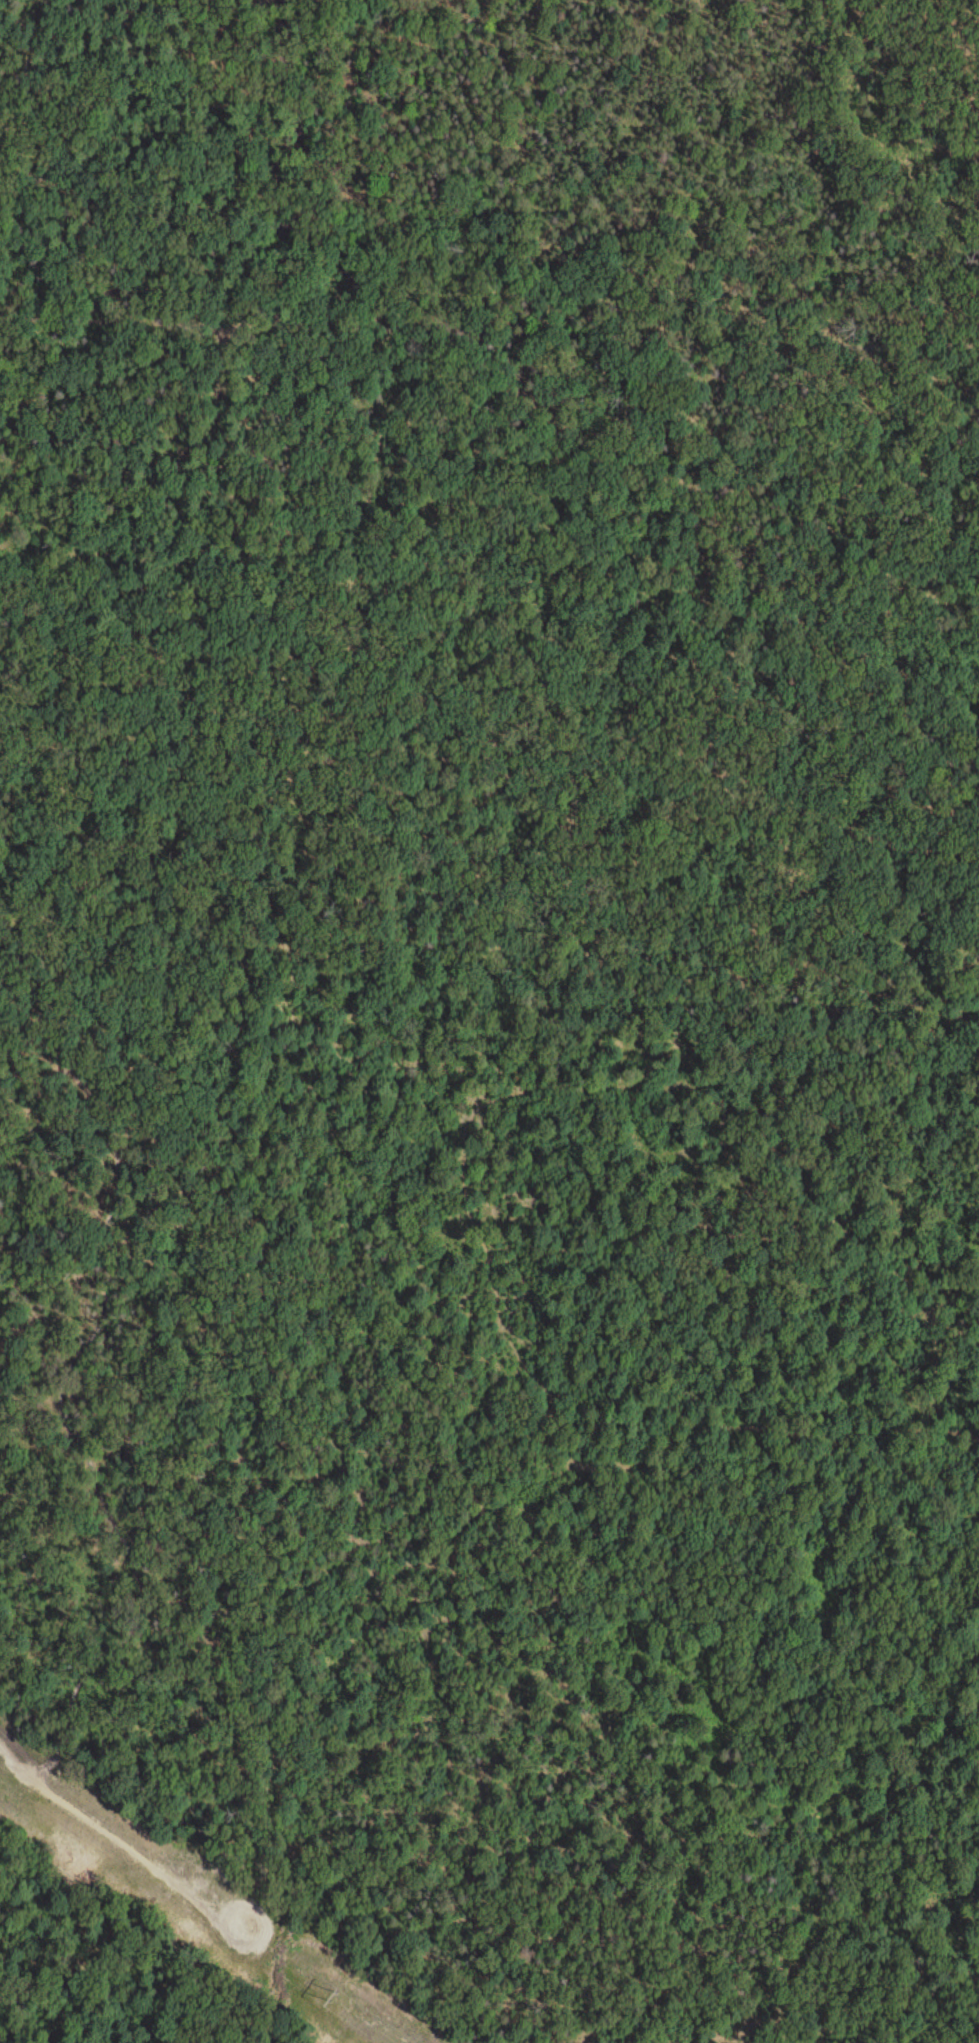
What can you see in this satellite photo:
power tower: (333, 1992)

